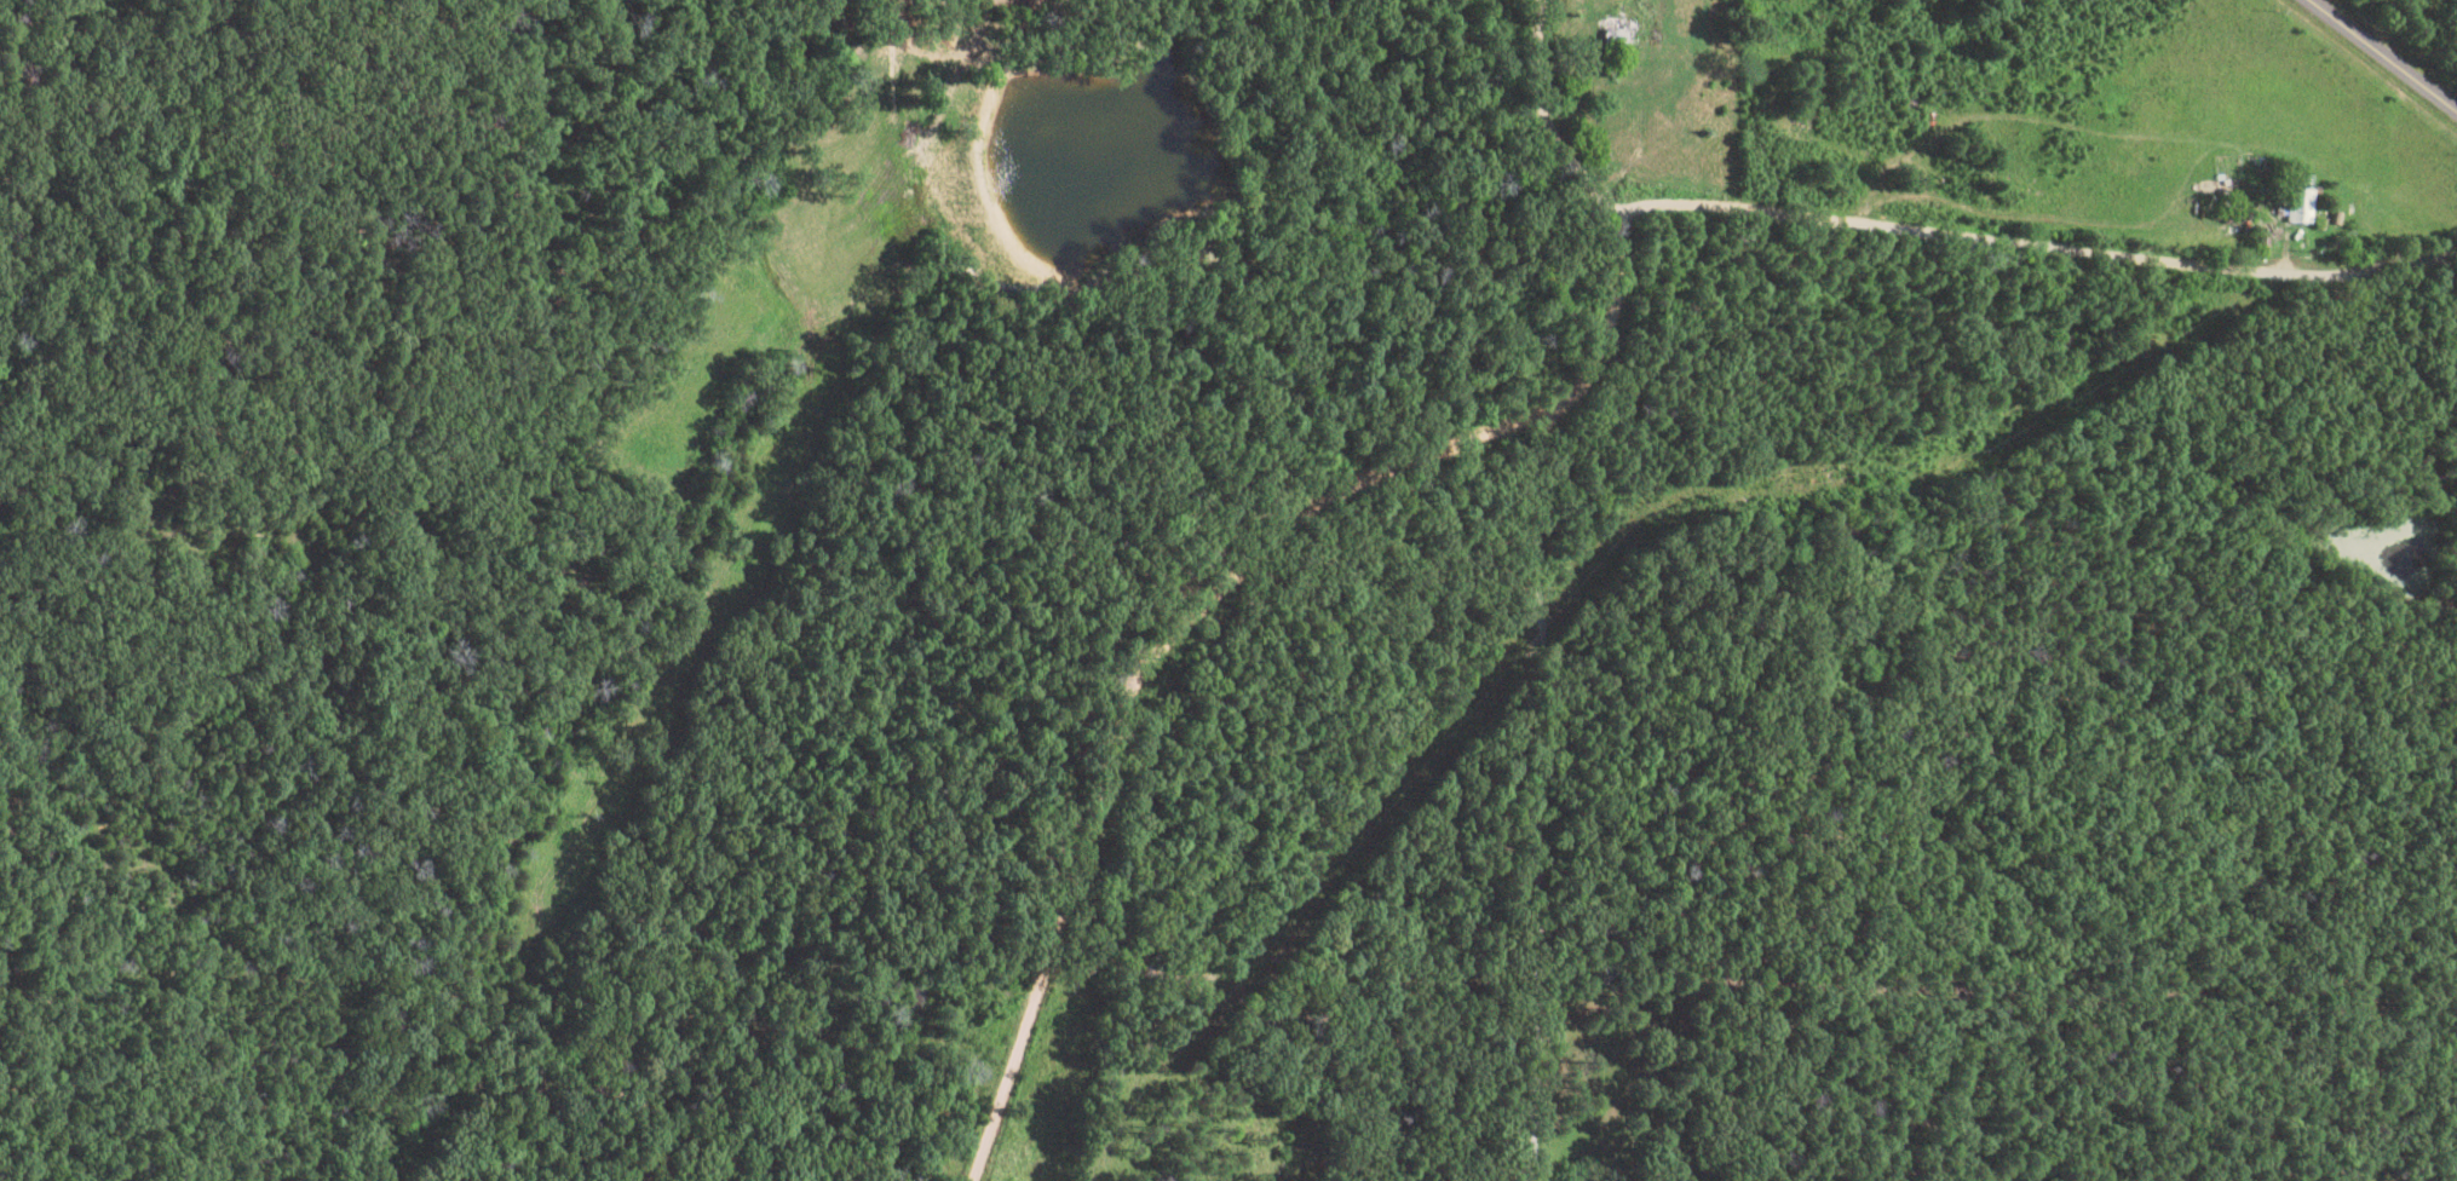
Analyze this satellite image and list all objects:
building: (1623, 31)
road: (2393, 50)
building: (2306, 208)
road: (1927, 220)
road: (1601, 328)
road: (1130, 709)
road: (1283, 900)

